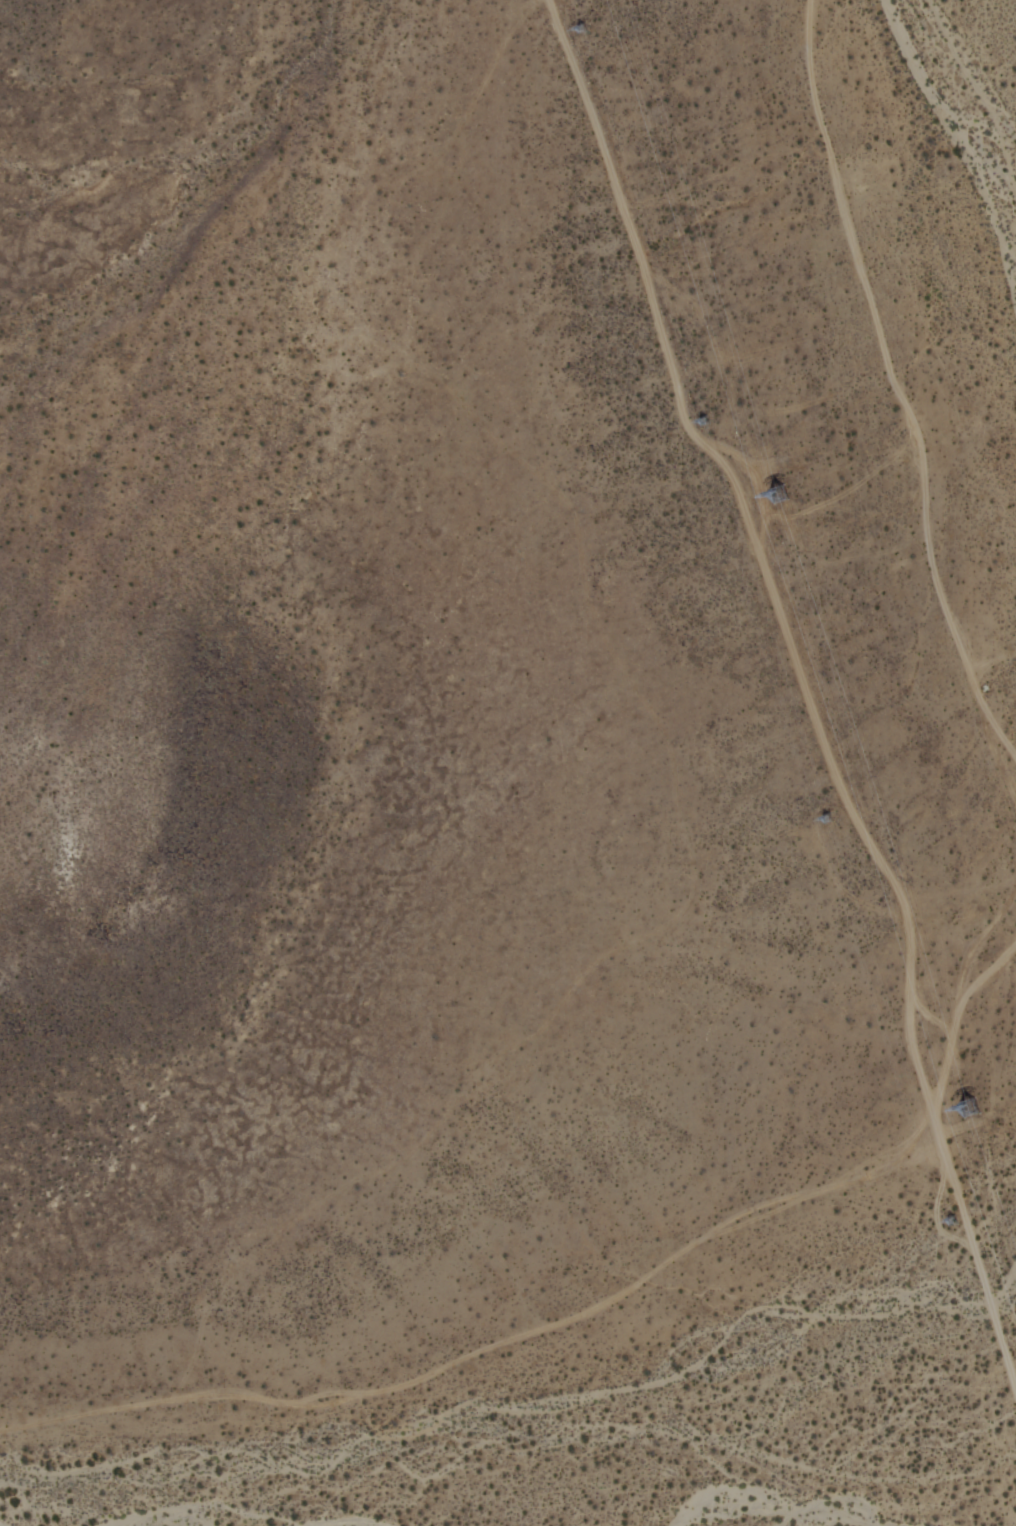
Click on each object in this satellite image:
power tower: (585, 30)
power tower: (705, 422)
power tower: (778, 498)
power tower: (823, 820)
power tower: (967, 1113)
power tower: (943, 1225)

